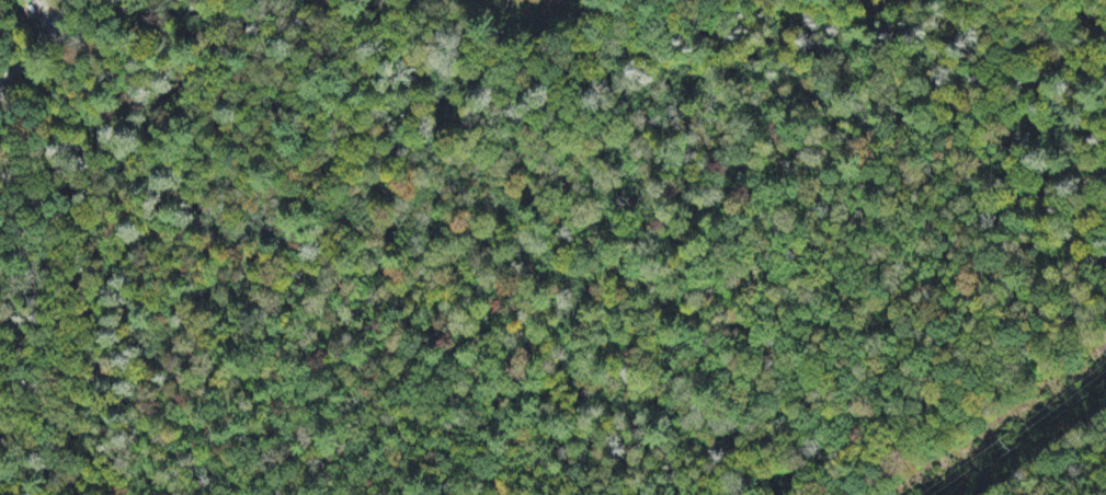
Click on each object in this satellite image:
road: (46, 49)

